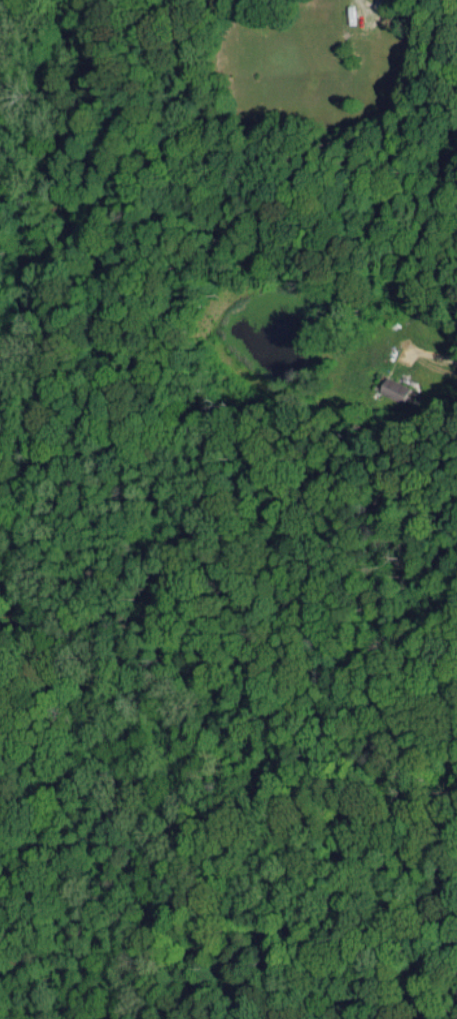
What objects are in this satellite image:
building: (394, 389)

